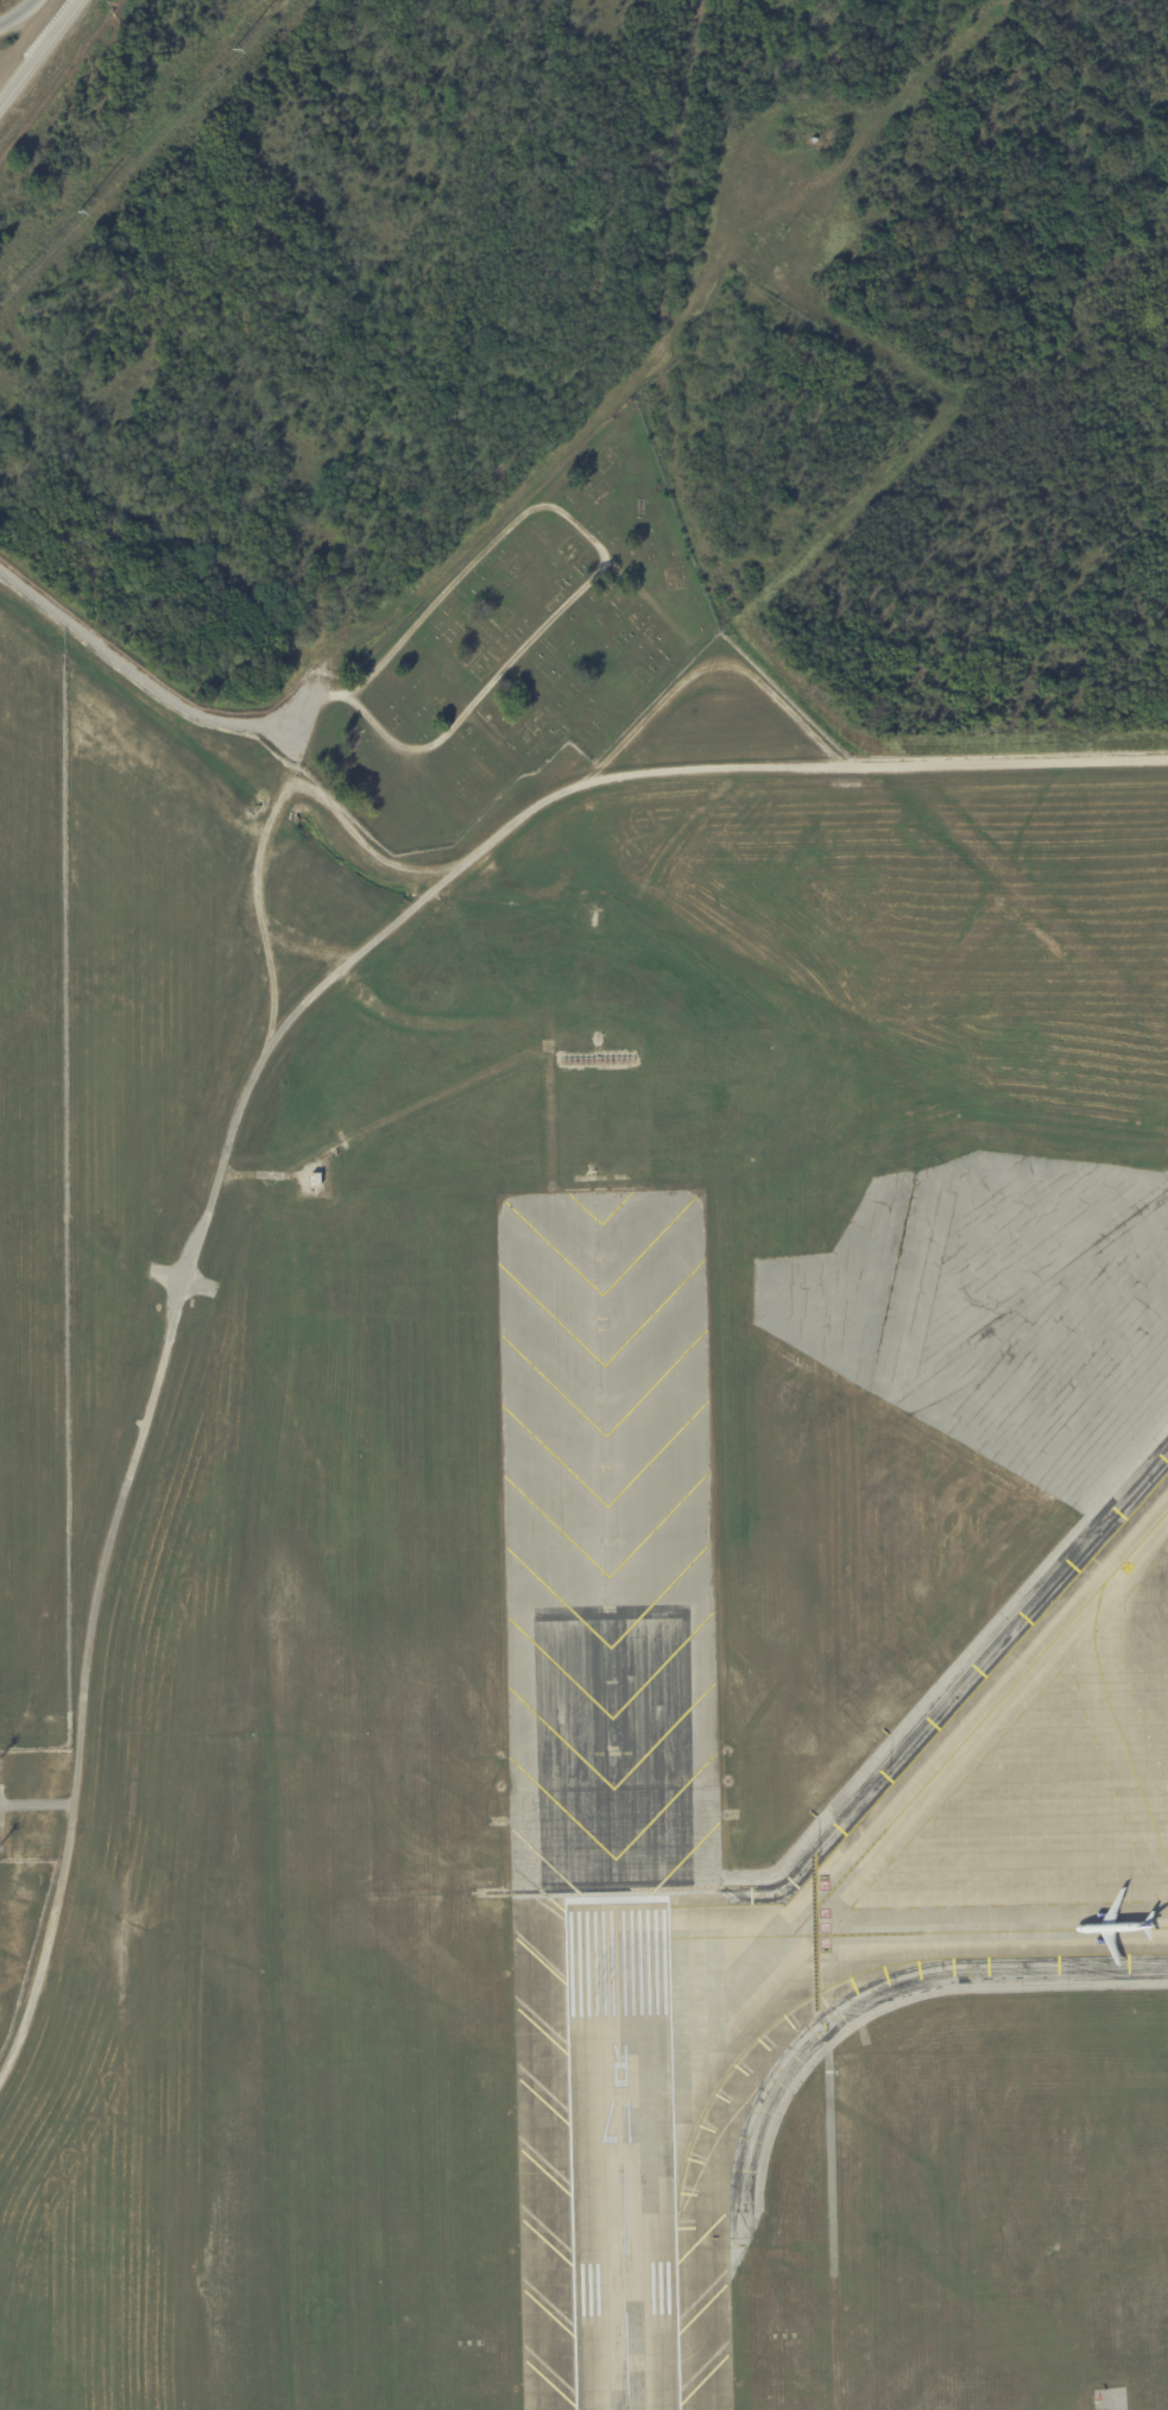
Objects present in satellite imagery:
road: (18, 14)
road: (37, 49)
road: (577, 591)
park: (520, 648)
road: (125, 662)
building: (316, 1178)
road: (141, 1427)
airport: (579, 1581)
airport taxiway: (979, 1722)
airport taxiway: (1116, 1722)
road: (38, 1803)
airport taxiway: (875, 1931)
railway: (434, 2019)
airport runway: (620, 2157)

